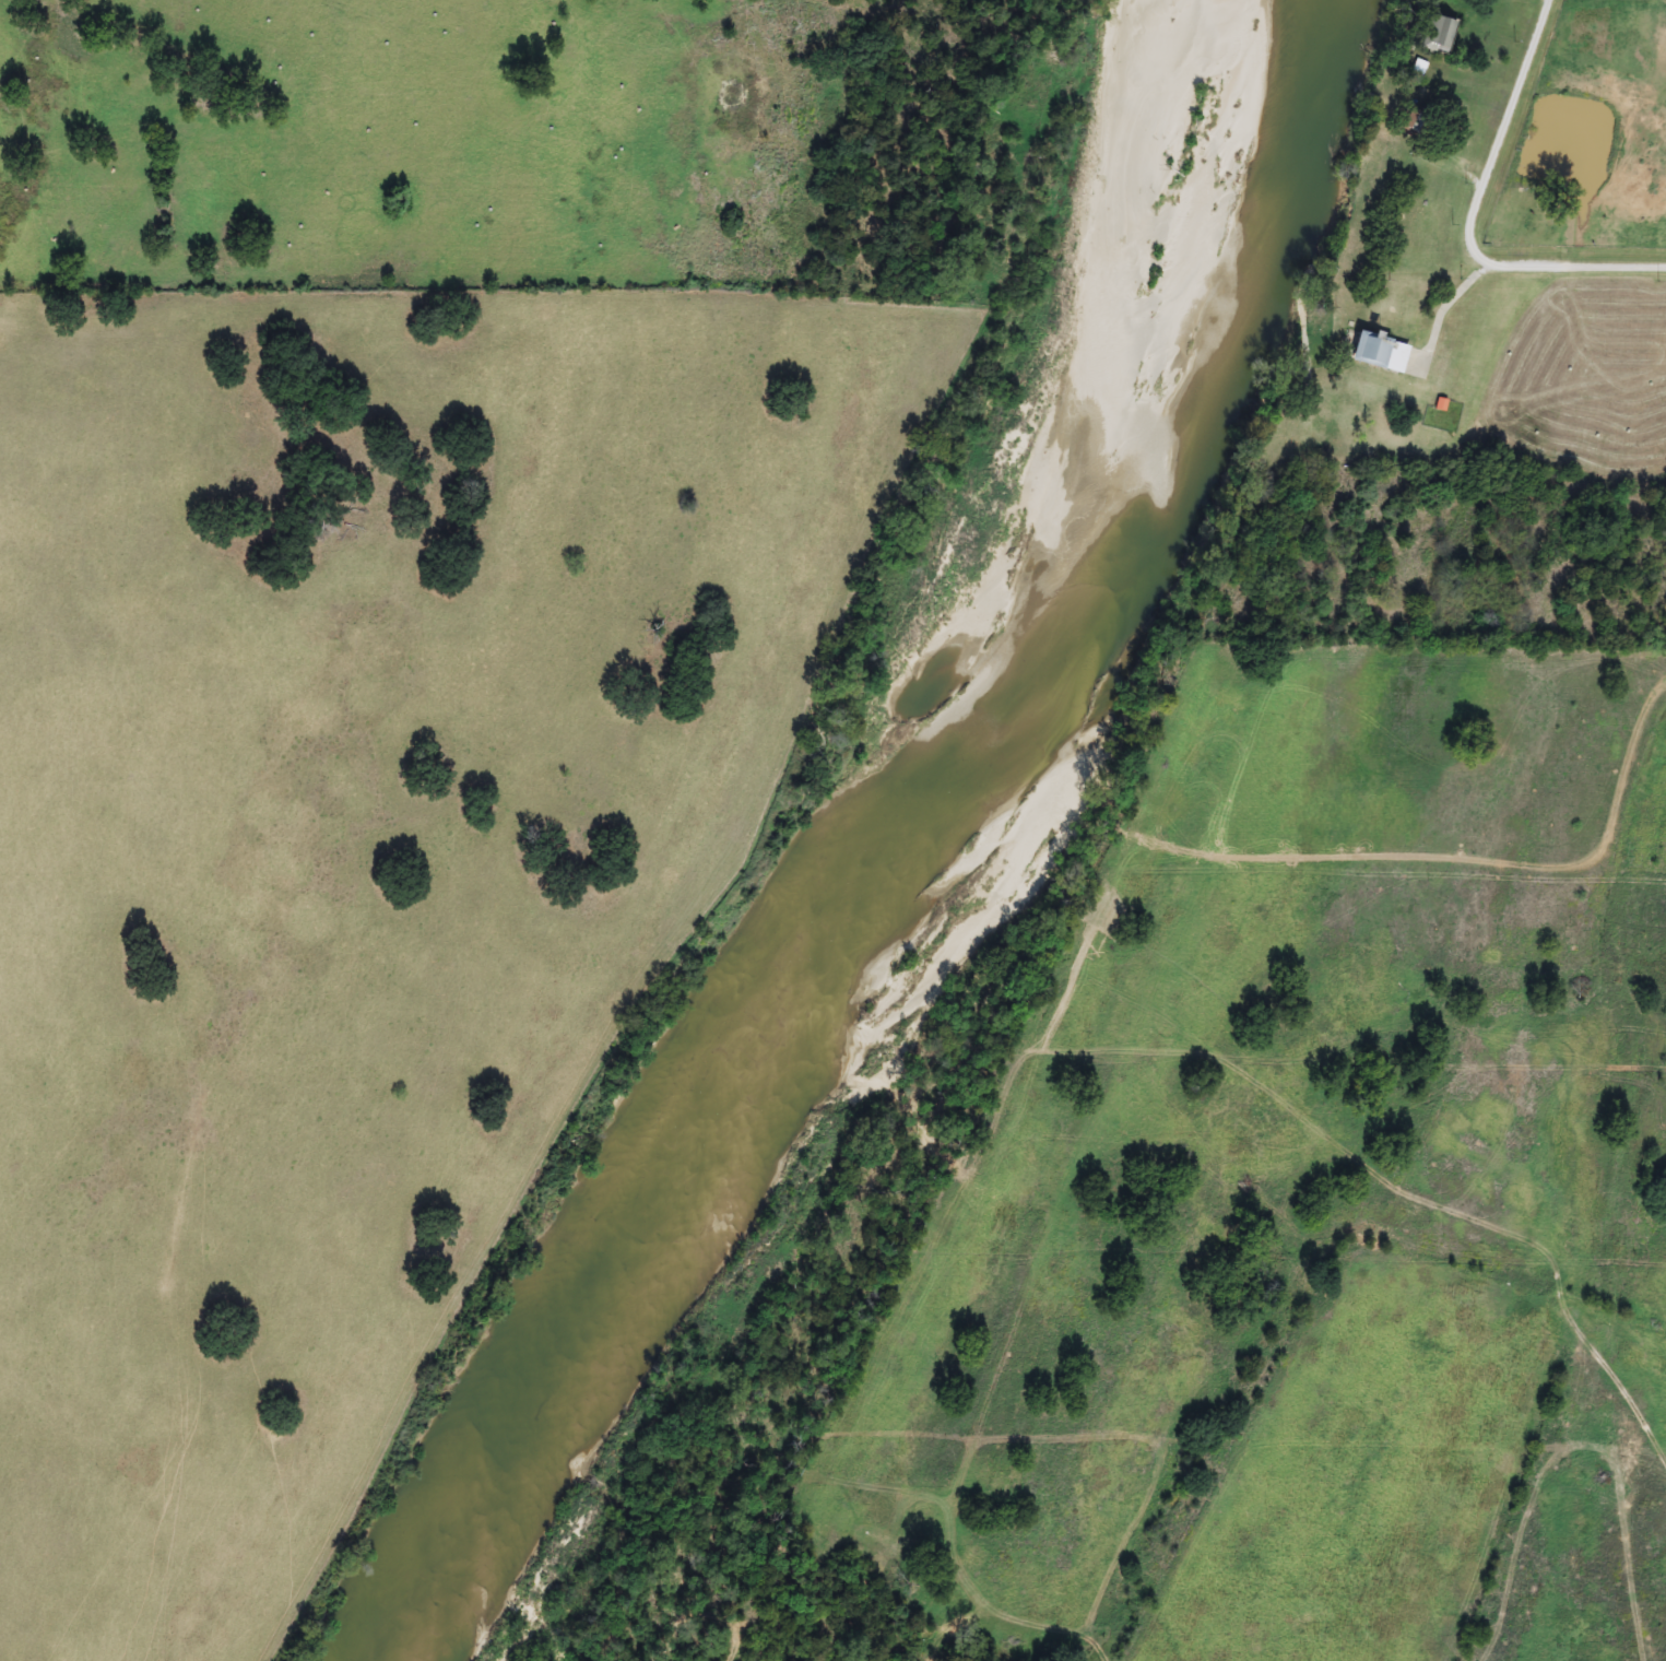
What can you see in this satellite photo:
building: (1435, 35)
road: (1473, 221)
road: (1449, 313)
building: (1371, 352)
river: (884, 841)

